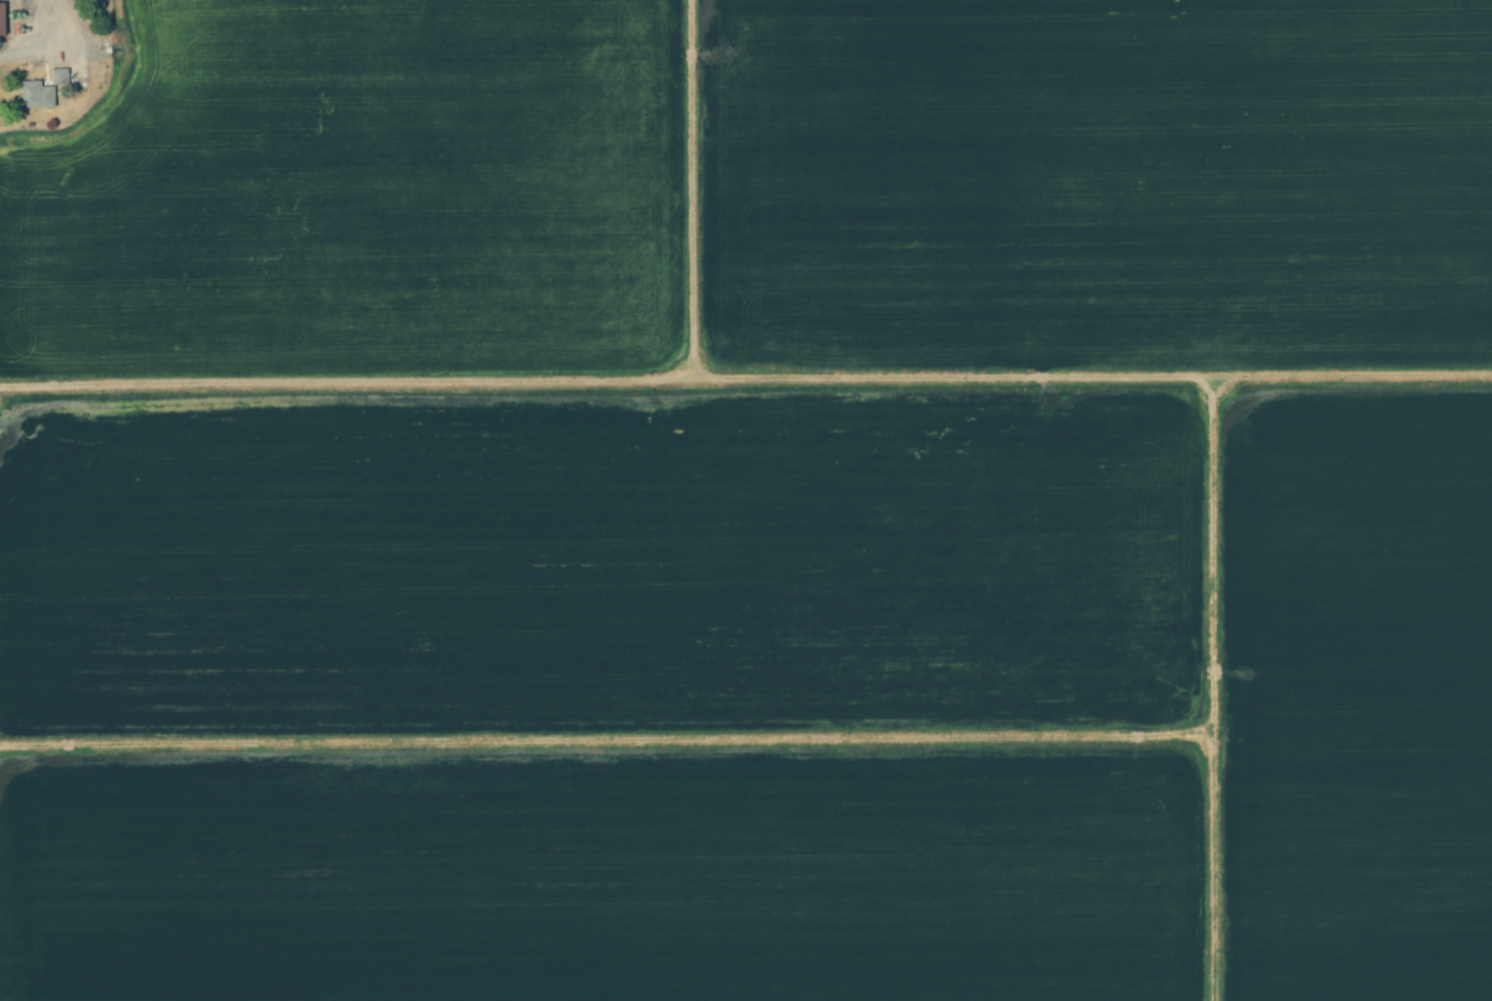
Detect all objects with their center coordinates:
building: (1, 18)
building: (40, 90)

